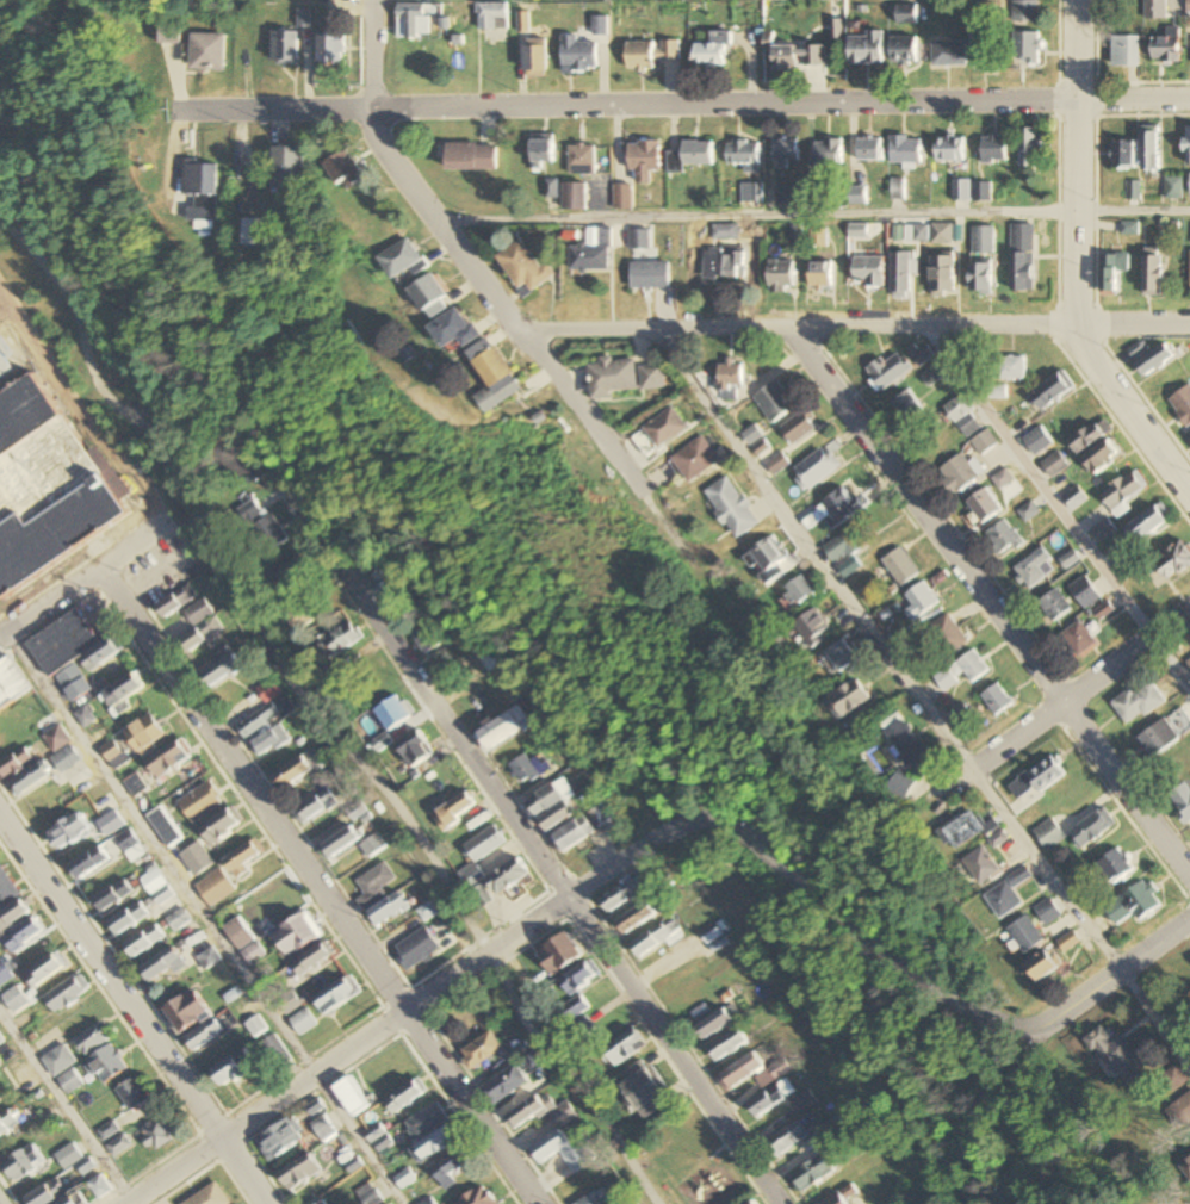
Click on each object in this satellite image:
building: (1188, 6)
building: (1155, 10)
building: (1025, 12)
building: (906, 14)
building: (492, 17)
building: (415, 20)
building: (169, 33)
building: (1166, 48)
building: (283, 49)
building: (330, 49)
building: (866, 49)
building: (1025, 49)
building: (904, 50)
building: (1124, 51)
building: (207, 52)
building: (714, 52)
building: (985, 52)
building: (949, 54)
building: (651, 55)
building: (578, 56)
building: (534, 58)
building: (783, 60)
road: (684, 105)
building: (1188, 147)
building: (1151, 148)
building: (1033, 149)
building: (869, 150)
building: (906, 150)
building: (950, 150)
building: (994, 150)
building: (787, 151)
building: (541, 153)
building: (828, 154)
building: (692, 155)
building: (744, 155)
building: (1124, 155)
building: (470, 157)
building: (582, 161)
building: (644, 161)
building: (342, 169)
building: (289, 170)
building: (199, 181)
building: (1174, 188)
building: (961, 191)
building: (983, 192)
building: (621, 194)
building: (574, 198)
road: (812, 216)
building: (727, 231)
building: (917, 234)
building: (942, 234)
building: (639, 240)
building: (984, 241)
building: (591, 254)
building: (1023, 259)
building: (402, 260)
road: (1076, 262)
building: (724, 263)
building: (521, 267)
building: (868, 272)
building: (1153, 272)
building: (1114, 273)
building: (650, 274)
building: (820, 274)
building: (781, 275)
building: (900, 275)
building: (942, 275)
building: (981, 277)
road: (485, 294)
building: (428, 296)
road: (848, 324)
building: (453, 330)
building: (925, 355)
building: (1154, 359)
building: (1012, 367)
building: (888, 372)
building: (935, 376)
building: (494, 377)
building: (613, 377)
building: (652, 377)
building: (730, 378)
building: (1053, 390)
building: (774, 401)
building: (1182, 403)
building: (907, 406)
building: (965, 416)
building: (799, 427)
building: (659, 430)
building: (1091, 435)
building: (1039, 441)
building: (984, 442)
building: (1104, 455)
building: (694, 459)
building: (776, 464)
building: (1055, 464)
building: (818, 467)
building: (957, 473)
building: (1003, 479)
building: (47, 485)
building: (1124, 491)
building: (1076, 497)
building: (984, 504)
road: (1058, 505)
building: (732, 507)
building: (833, 510)
building: (1029, 511)
building: (1149, 522)
building: (261, 525)
building: (1104, 528)
building: (1003, 538)
building: (844, 553)
building: (767, 559)
building: (1071, 560)
building: (1174, 560)
building: (900, 566)
building: (1034, 567)
building: (383, 578)
road: (99, 579)
building: (800, 589)
building: (1085, 591)
building: (176, 601)
building: (919, 601)
building: (1054, 604)
road: (988, 607)
building: (298, 617)
building: (198, 627)
building: (813, 627)
building: (947, 634)
building: (429, 637)
building: (1079, 638)
building: (341, 640)
road: (884, 650)
building: (63, 652)
building: (99, 654)
building: (841, 656)
building: (1188, 662)
building: (962, 669)
building: (219, 670)
building: (11, 682)
building: (268, 690)
building: (122, 693)
building: (848, 696)
building: (997, 699)
road: (1060, 700)
building: (1138, 703)
building: (392, 713)
road: (333, 714)
building: (85, 716)
building: (256, 721)
building: (504, 727)
building: (143, 733)
building: (1158, 737)
building: (55, 739)
building: (268, 740)
building: (380, 743)
building: (910, 747)
building: (416, 751)
building: (113, 755)
building: (169, 758)
building: (66, 759)
building: (14, 764)
building: (297, 770)
building: (525, 770)
building: (29, 780)
building: (135, 784)
building: (1182, 799)
building: (199, 802)
road: (523, 803)
building: (316, 806)
building: (550, 807)
building: (457, 808)
building: (357, 812)
building: (600, 815)
building: (110, 824)
building: (219, 826)
building: (163, 827)
building: (1093, 827)
building: (962, 830)
building: (68, 831)
building: (572, 833)
building: (1049, 834)
building: (340, 840)
building: (484, 843)
building: (130, 845)
building: (372, 846)
building: (241, 859)
building: (88, 863)
building: (981, 864)
building: (1116, 865)
building: (469, 875)
building: (507, 876)
building: (372, 885)
building: (215, 887)
road: (326, 887)
building: (6, 889)
building: (626, 893)
building: (1008, 894)
building: (112, 895)
building: (481, 895)
building: (1133, 905)
building: (386, 908)
building: (426, 912)
building: (1048, 912)
building: (11, 914)
building: (636, 917)
building: (128, 918)
building: (178, 919)
road: (203, 921)
building: (296, 933)
building: (711, 933)
building: (1025, 935)
building: (23, 936)
building: (656, 937)
building: (143, 941)
building: (1070, 942)
building: (558, 954)
building: (207, 957)
building: (311, 957)
building: (1045, 963)
building: (161, 964)
building: (43, 970)
building: (5, 974)
building: (578, 976)
road: (923, 980)
building: (66, 992)
building: (336, 994)
building: (14, 999)
building: (287, 1003)
building: (572, 1008)
road: (132, 1011)
building: (185, 1011)
road: (407, 1014)
road: (1155, 1019)
building: (718, 1020)
building: (302, 1022)
building: (203, 1035)
building: (89, 1039)
building: (0, 1043)
building: (726, 1045)
building: (624, 1048)
building: (274, 1050)
building: (479, 1051)
building: (1115, 1055)
building: (106, 1063)
building: (233, 1067)
building: (62, 1068)
building: (740, 1069)
building: (771, 1073)
building: (1173, 1079)
building: (503, 1085)
building: (131, 1093)
building: (644, 1093)
building: (405, 1096)
building: (351, 1097)
building: (769, 1099)
building: (804, 1101)
road: (67, 1105)
building: (1179, 1111)
building: (540, 1112)
building: (424, 1121)
building: (7, 1123)
building: (322, 1129)
building: (106, 1131)
building: (154, 1136)
building: (787, 1138)
building: (278, 1140)
building: (378, 1140)
building: (434, 1143)
building: (117, 1146)
building: (562, 1152)
building: (69, 1158)
building: (21, 1163)
building: (451, 1166)
building: (1185, 1167)
building: (298, 1173)
building: (811, 1174)
building: (404, 1180)
building: (98, 1187)
building: (44, 1193)
building: (209, 1196)
building: (367, 1196)
building: (477, 1197)
building: (590, 1199)
building: (836, 1199)
building: (67, 1202)
building: (321, 1203)
building: (750, 1203)

